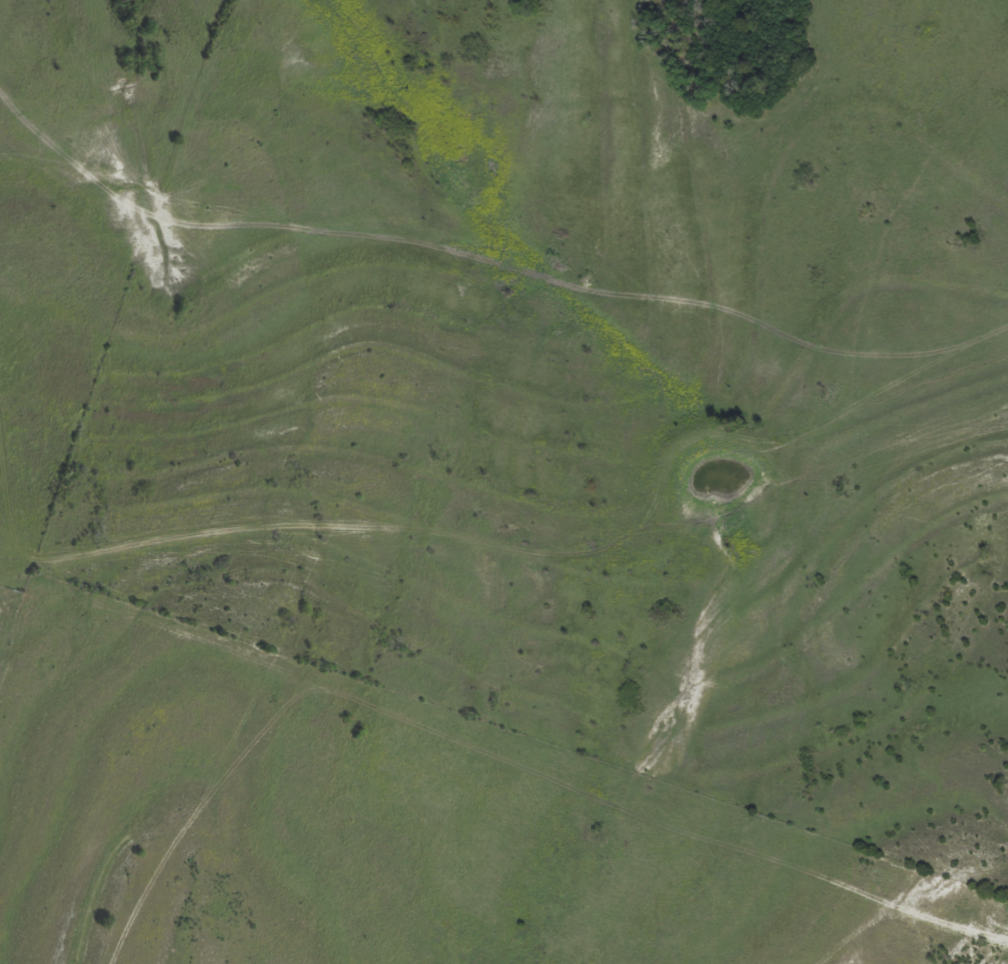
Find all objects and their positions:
road: (972, 927)

